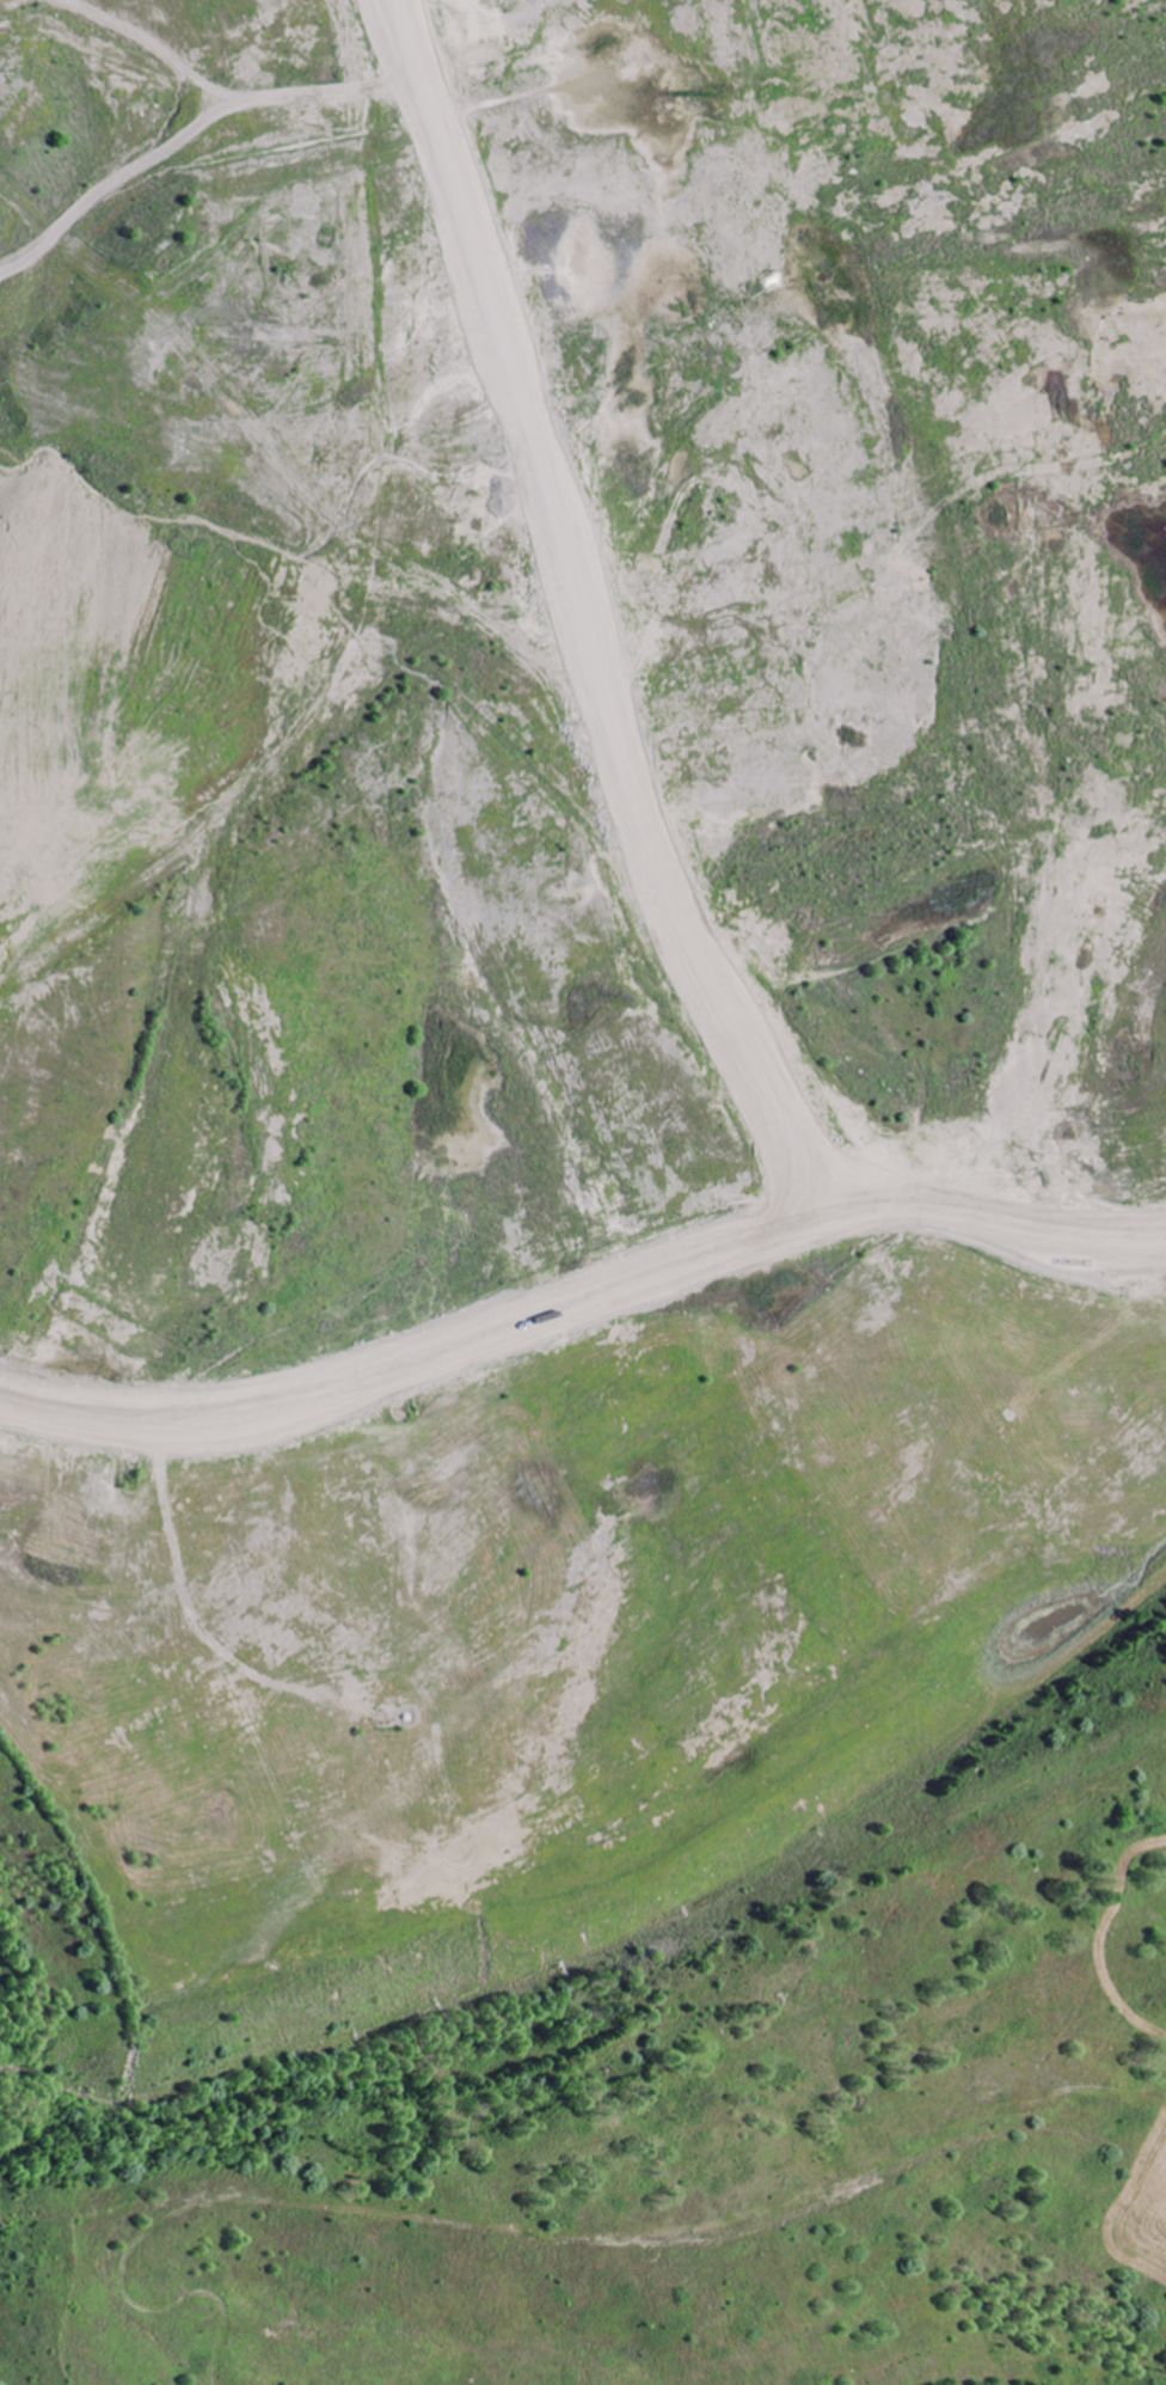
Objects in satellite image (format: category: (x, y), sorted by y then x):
quarry: (583, 1192)

